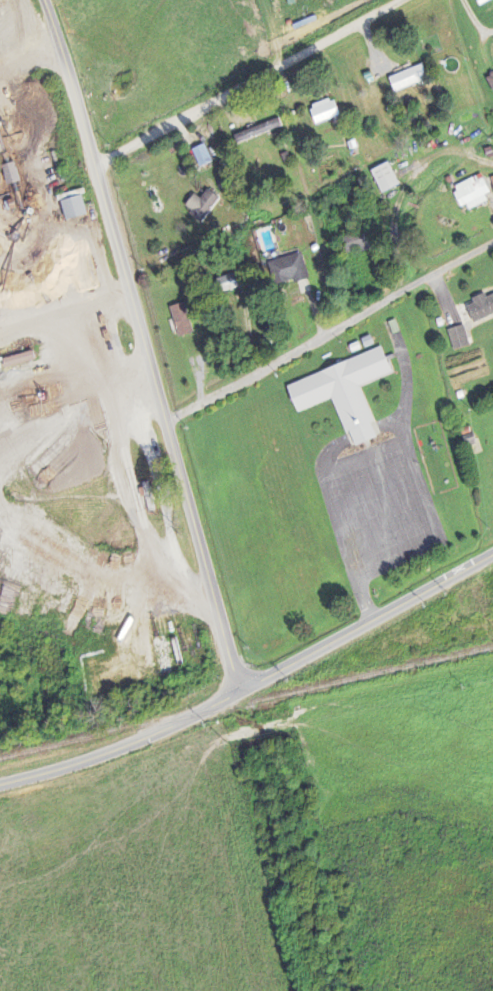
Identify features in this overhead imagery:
building: (407, 79)
road: (248, 80)
building: (490, 82)
building: (323, 112)
building: (256, 132)
building: (200, 157)
building: (9, 174)
building: (383, 178)
building: (492, 188)
building: (470, 194)
building: (200, 205)
building: (72, 209)
building: (287, 271)
building: (480, 309)
building: (180, 321)
road: (330, 328)
building: (457, 339)
road: (150, 343)
building: (342, 393)
road: (253, 683)
railway: (246, 702)

